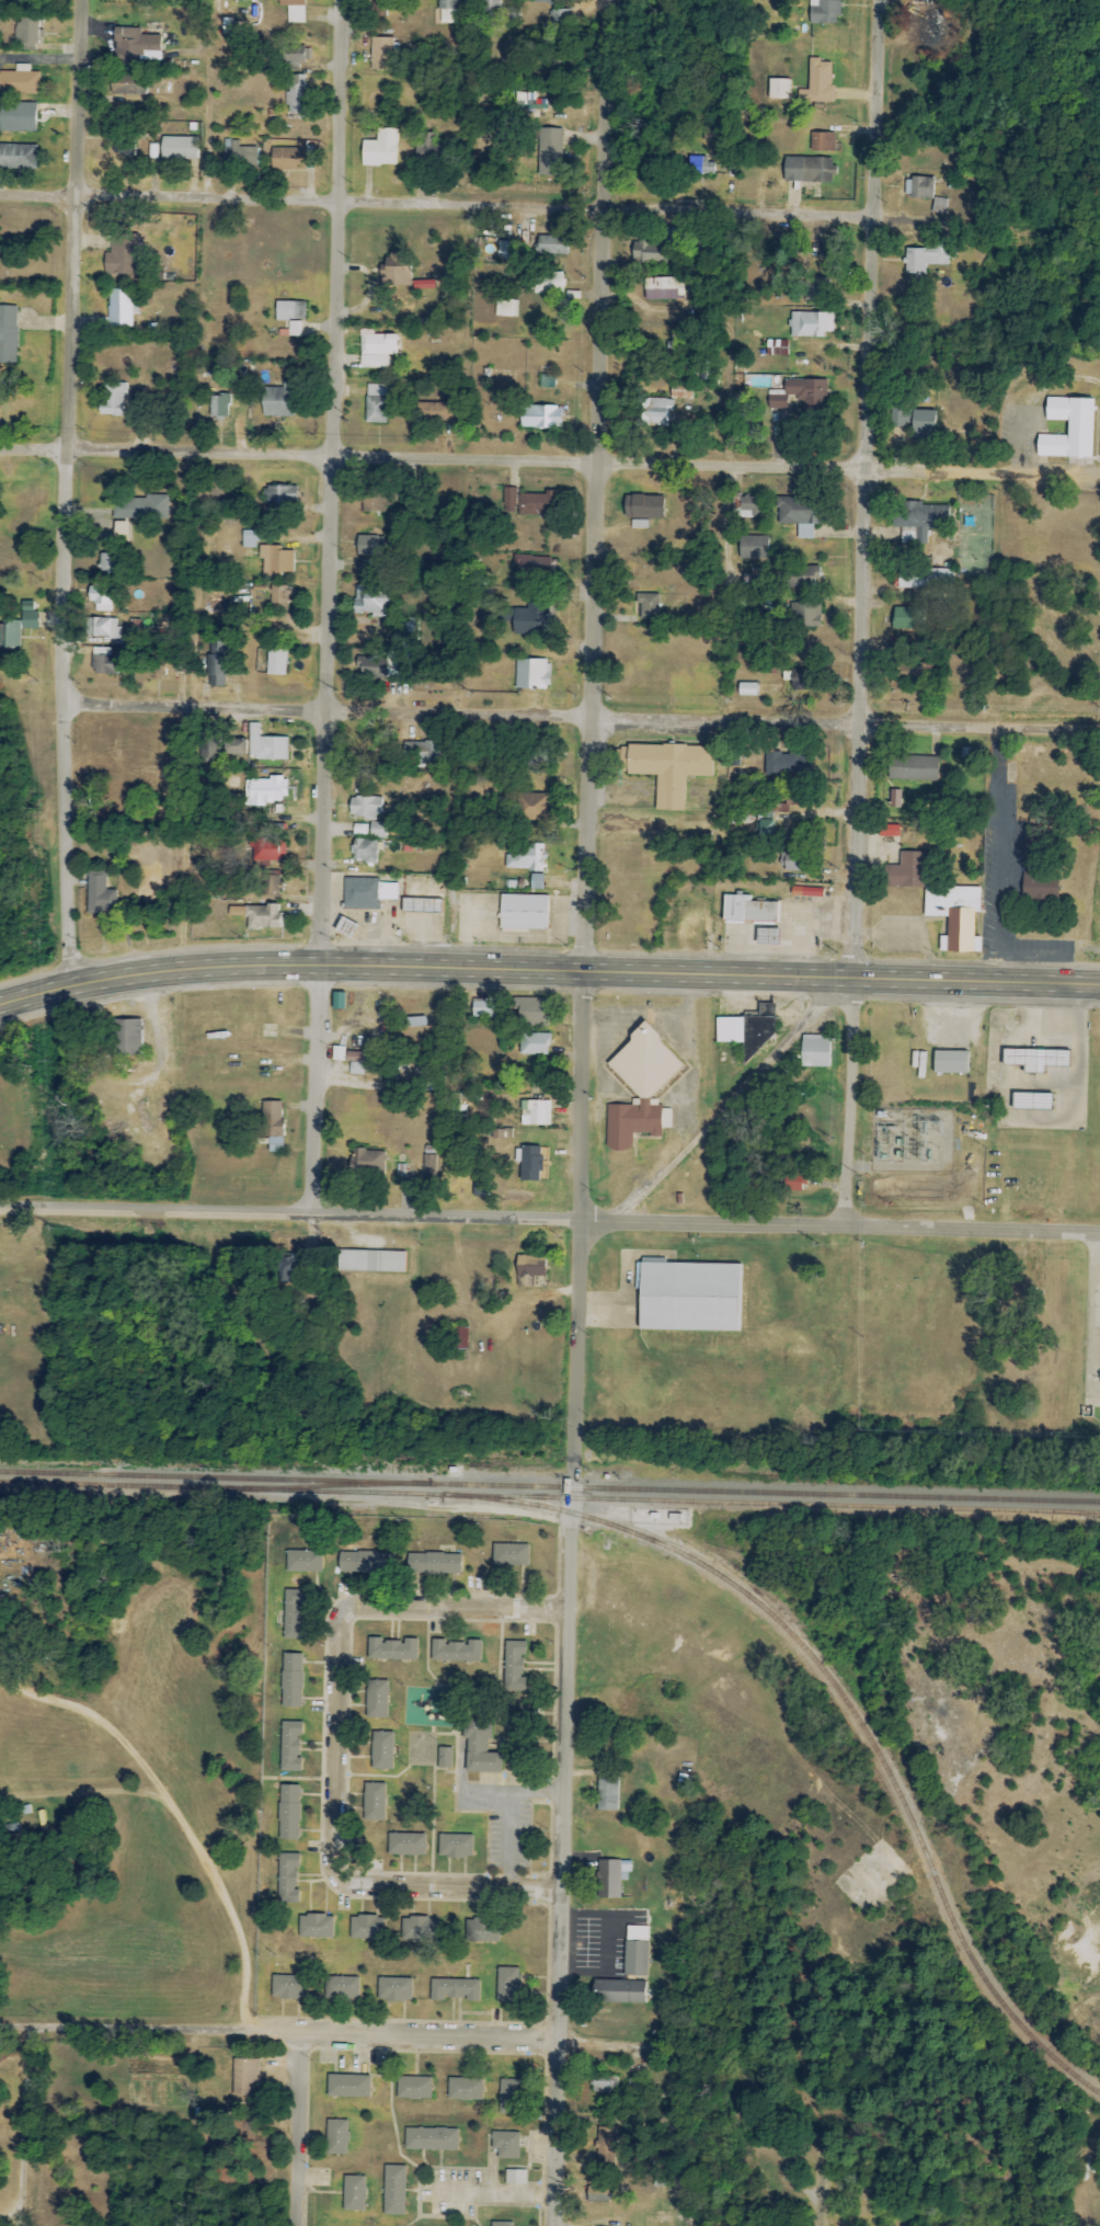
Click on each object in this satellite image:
building: (125, 0)
building: (232, 0)
building: (540, 1)
building: (492, 5)
building: (294, 10)
building: (449, 11)
building: (824, 11)
building: (515, 14)
building: (933, 24)
building: (28, 31)
building: (134, 44)
building: (381, 54)
building: (298, 55)
building: (20, 81)
building: (820, 81)
building: (778, 89)
building: (298, 95)
building: (18, 117)
building: (708, 134)
building: (823, 141)
building: (429, 145)
building: (124, 147)
building: (180, 148)
building: (380, 149)
building: (549, 152)
building: (239, 153)
building: (19, 157)
building: (288, 159)
building: (701, 165)
building: (806, 170)
building: (919, 187)
road: (435, 206)
building: (940, 206)
road: (929, 220)
building: (550, 242)
building: (657, 248)
building: (509, 250)
building: (122, 254)
building: (928, 258)
building: (394, 276)
building: (548, 283)
building: (423, 285)
building: (663, 288)
building: (816, 289)
building: (119, 308)
building: (506, 308)
building: (290, 316)
building: (811, 324)
building: (9, 334)
building: (377, 350)
building: (548, 381)
building: (807, 392)
building: (113, 400)
building: (278, 400)
building: (778, 402)
building: (377, 403)
building: (219, 406)
building: (435, 412)
building: (654, 412)
building: (540, 416)
building: (915, 422)
building: (1068, 429)
road: (549, 458)
road: (76, 491)
building: (280, 496)
building: (509, 496)
building: (538, 504)
building: (643, 506)
building: (750, 506)
building: (142, 507)
building: (798, 515)
building: (923, 518)
building: (639, 524)
building: (249, 539)
building: (754, 547)
building: (277, 561)
building: (108, 563)
building: (537, 566)
building: (804, 577)
building: (926, 579)
building: (103, 596)
building: (274, 597)
building: (371, 598)
road: (324, 606)
building: (649, 607)
road: (859, 613)
building: (811, 615)
building: (907, 618)
building: (531, 621)
building: (19, 626)
building: (103, 628)
building: (104, 661)
building: (276, 662)
building: (217, 664)
building: (162, 666)
building: (383, 666)
building: (532, 674)
building: (909, 675)
building: (747, 689)
road: (585, 719)
road: (591, 742)
building: (265, 745)
building: (234, 747)
building: (421, 752)
building: (786, 764)
building: (913, 768)
building: (666, 769)
road: (996, 776)
building: (266, 790)
building: (895, 799)
building: (536, 806)
building: (365, 808)
building: (359, 830)
building: (378, 830)
building: (1031, 837)
building: (364, 851)
building: (268, 852)
building: (526, 857)
building: (906, 871)
road: (1001, 872)
building: (537, 881)
building: (149, 882)
building: (271, 886)
building: (1039, 889)
building: (806, 892)
building: (366, 893)
building: (100, 894)
building: (421, 906)
building: (748, 911)
building: (524, 912)
building: (257, 916)
building: (345, 928)
road: (998, 938)
road: (1033, 950)
road: (997, 969)
road: (547, 971)
building: (482, 1007)
building: (530, 1012)
building: (415, 1021)
building: (745, 1029)
building: (127, 1037)
building: (534, 1043)
building: (814, 1050)
building: (337, 1053)
building: (371, 1054)
building: (1034, 1059)
building: (355, 1062)
building: (950, 1062)
building: (640, 1088)
building: (1031, 1100)
road: (714, 1103)
building: (536, 1112)
building: (369, 1163)
building: (793, 1182)
building: (480, 1190)
road: (549, 1221)
road: (1093, 1258)
building: (370, 1260)
building: (286, 1265)
building: (529, 1268)
building: (687, 1297)
building: (459, 1337)
railway: (217, 1476)
railway: (115, 1485)
railway: (332, 1485)
railway: (767, 1492)
railway: (665, 1500)
building: (509, 1555)
building: (303, 1562)
building: (365, 1562)
building: (434, 1563)
building: (293, 1614)
building: (392, 1649)
building: (456, 1651)
building: (513, 1666)
building: (291, 1680)
building: (376, 1699)
railway: (847, 1700)
building: (289, 1746)
building: (480, 1748)
building: (381, 1750)
road: (336, 1751)
building: (444, 1758)
building: (607, 1794)
building: (374, 1802)
building: (288, 1812)
road: (177, 1814)
building: (406, 1843)
building: (456, 1846)
road: (566, 1856)
building: (288, 1877)
building: (609, 1879)
building: (316, 1927)
building: (367, 1928)
building: (419, 1929)
building: (482, 1931)
building: (635, 1951)
building: (508, 1985)
building: (288, 1987)
building: (342, 1988)
building: (394, 1989)
building: (455, 1989)
building: (618, 1991)
road: (279, 2033)
building: (245, 2076)
building: (604, 2084)
building: (634, 2085)
building: (347, 2086)
building: (414, 2088)
building: (465, 2089)
building: (509, 2091)
road: (27, 2126)
road: (299, 2130)
building: (336, 2137)
building: (431, 2138)
building: (505, 2144)
building: (606, 2148)
building: (515, 2177)
building: (394, 2190)
building: (354, 2193)
road: (514, 2193)
road: (825, 2193)
building: (599, 2194)
road: (1089, 2221)
building: (501, 2224)

